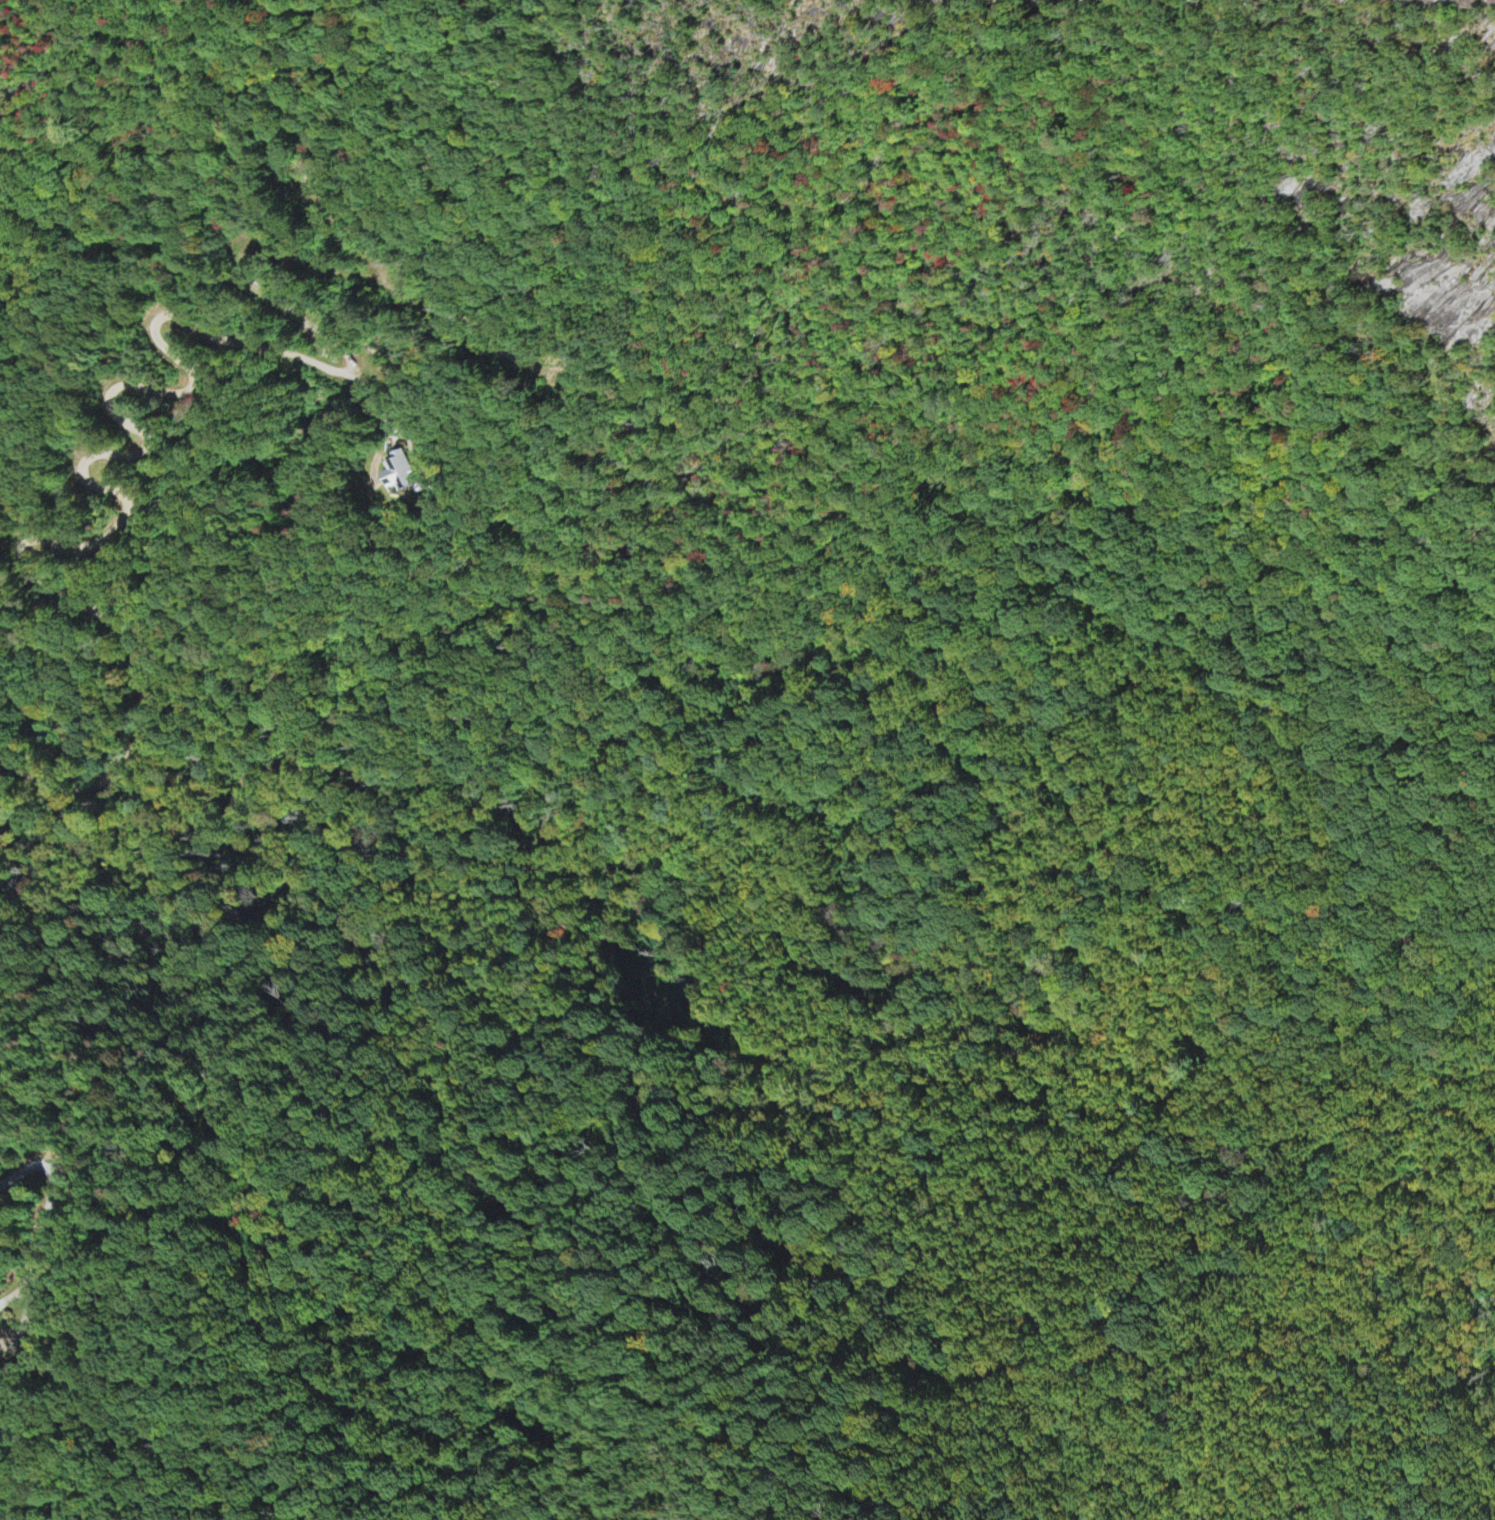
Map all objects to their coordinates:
building: (404, 475)
road: (66, 788)

